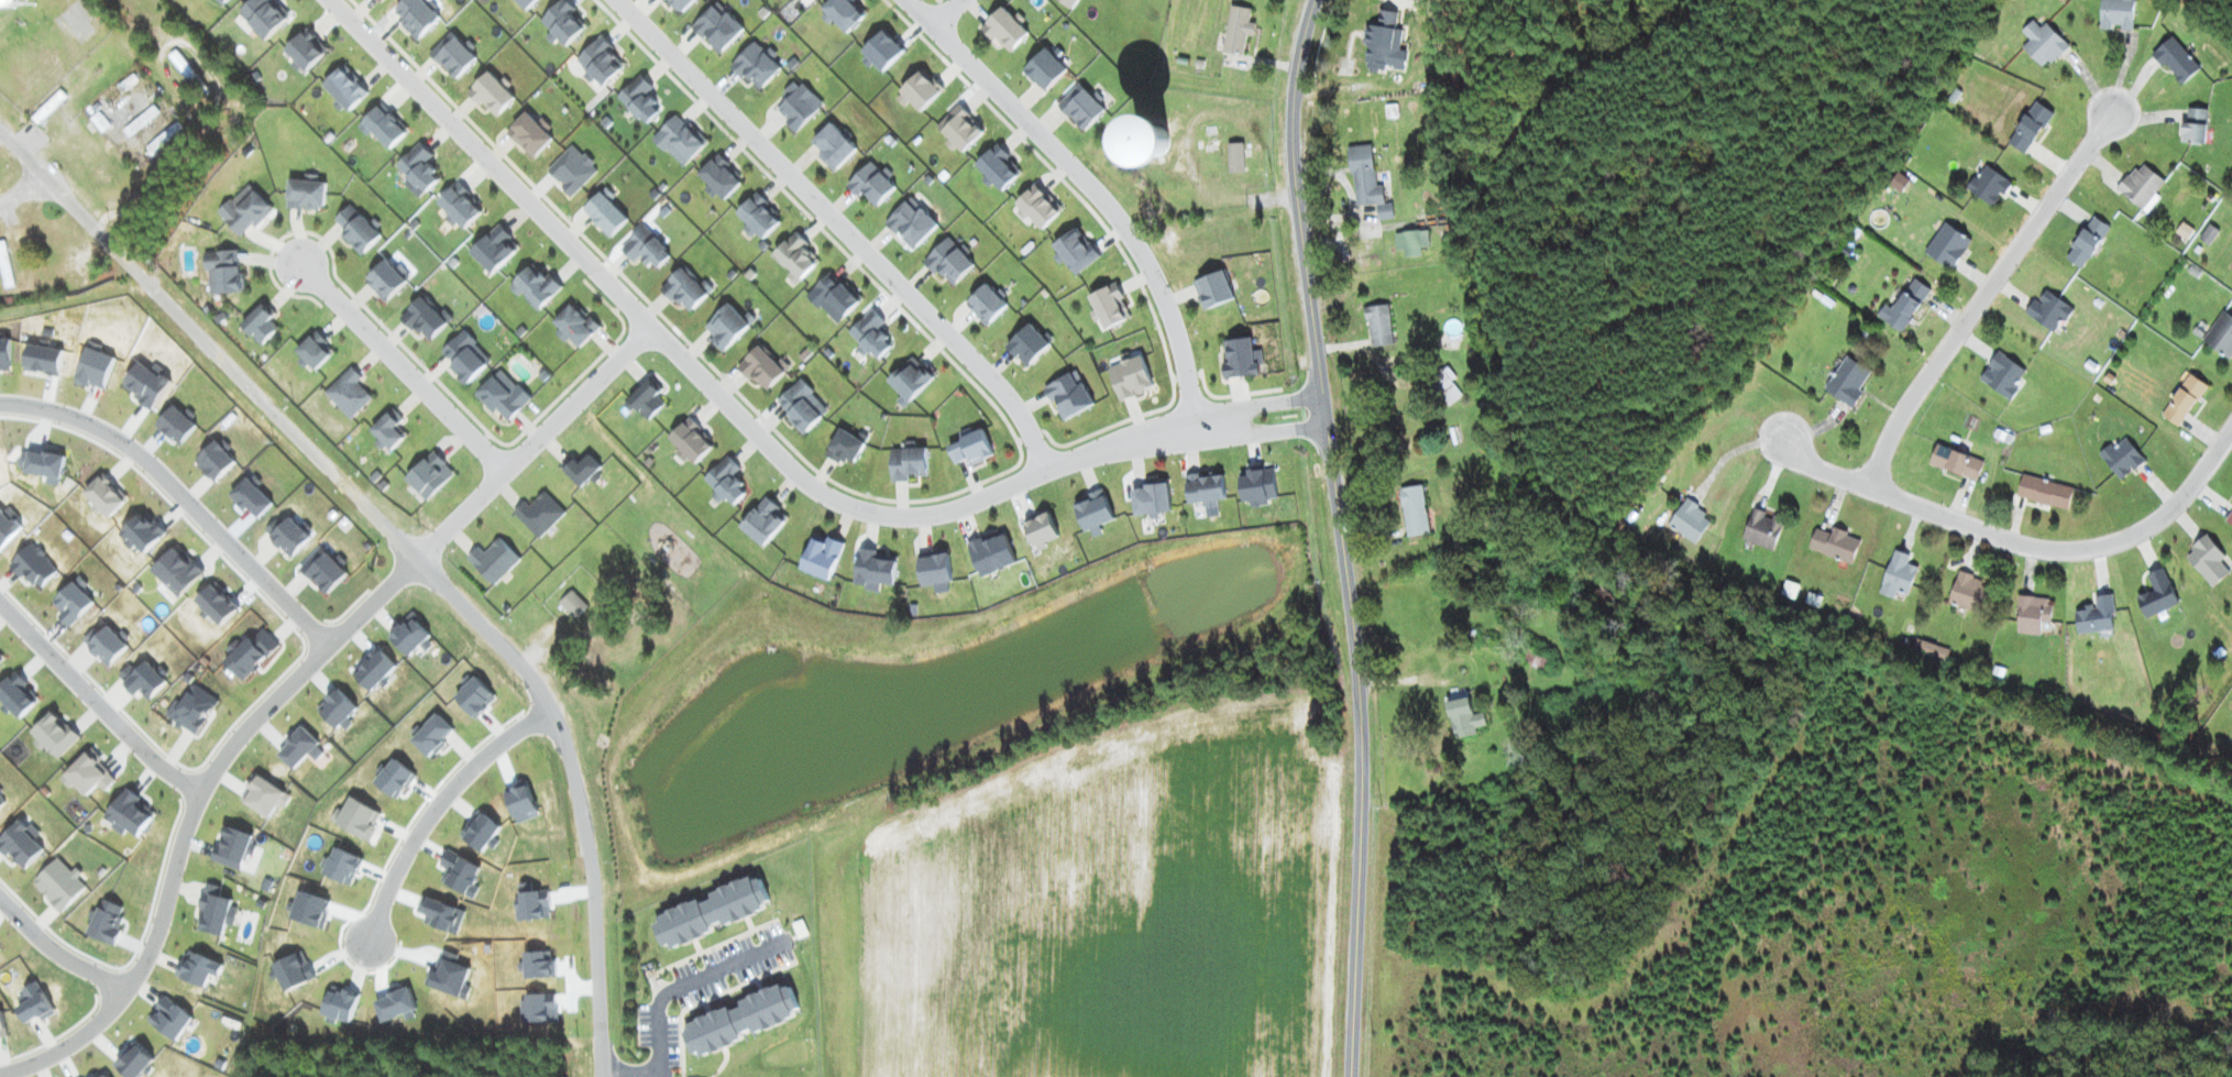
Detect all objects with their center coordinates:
building: (7, 4)
road: (952, 11)
building: (2115, 15)
building: (1236, 32)
building: (1382, 33)
building: (2042, 45)
building: (2175, 62)
building: (2193, 127)
building: (2028, 129)
building: (1366, 180)
building: (1898, 184)
road: (165, 186)
building: (1988, 187)
building: (2141, 187)
road: (22, 190)
road: (1098, 196)
road: (843, 228)
building: (2086, 242)
building: (1410, 243)
building: (1947, 245)
building: (3, 270)
road: (1982, 294)
building: (1903, 303)
building: (2048, 310)
building: (1377, 326)
building: (2221, 334)
road: (404, 367)
building: (2002, 375)
building: (1847, 381)
building: (1444, 386)
building: (2184, 399)
road: (759, 435)
road: (531, 444)
building: (2121, 458)
building: (1956, 462)
road: (184, 492)
building: (2044, 492)
building: (1414, 512)
building: (2229, 518)
building: (1690, 520)
building: (1762, 529)
road: (1342, 536)
road: (2019, 543)
building: (1834, 545)
road: (408, 552)
building: (2207, 561)
building: (1898, 576)
building: (1968, 593)
building: (2156, 595)
building: (572, 605)
building: (2032, 615)
building: (2096, 616)
road: (96, 700)
building: (1463, 717)
road: (438, 803)
road: (190, 814)
road: (57, 952)
road: (677, 980)
road: (628, 1065)

